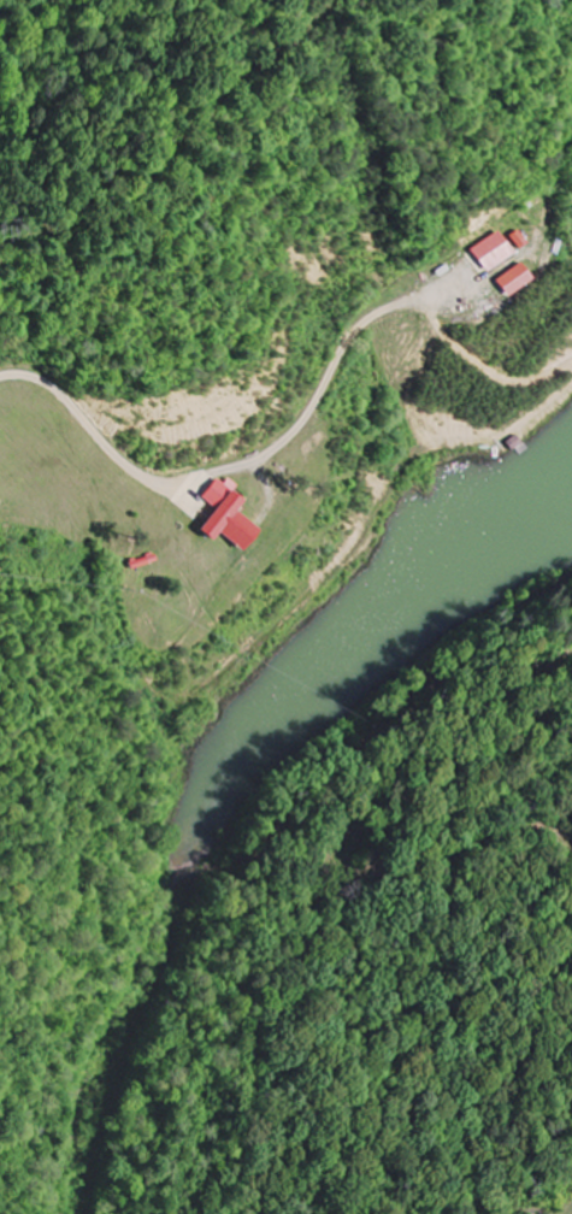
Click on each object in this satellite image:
building: (503, 247)
building: (519, 277)
building: (232, 514)

